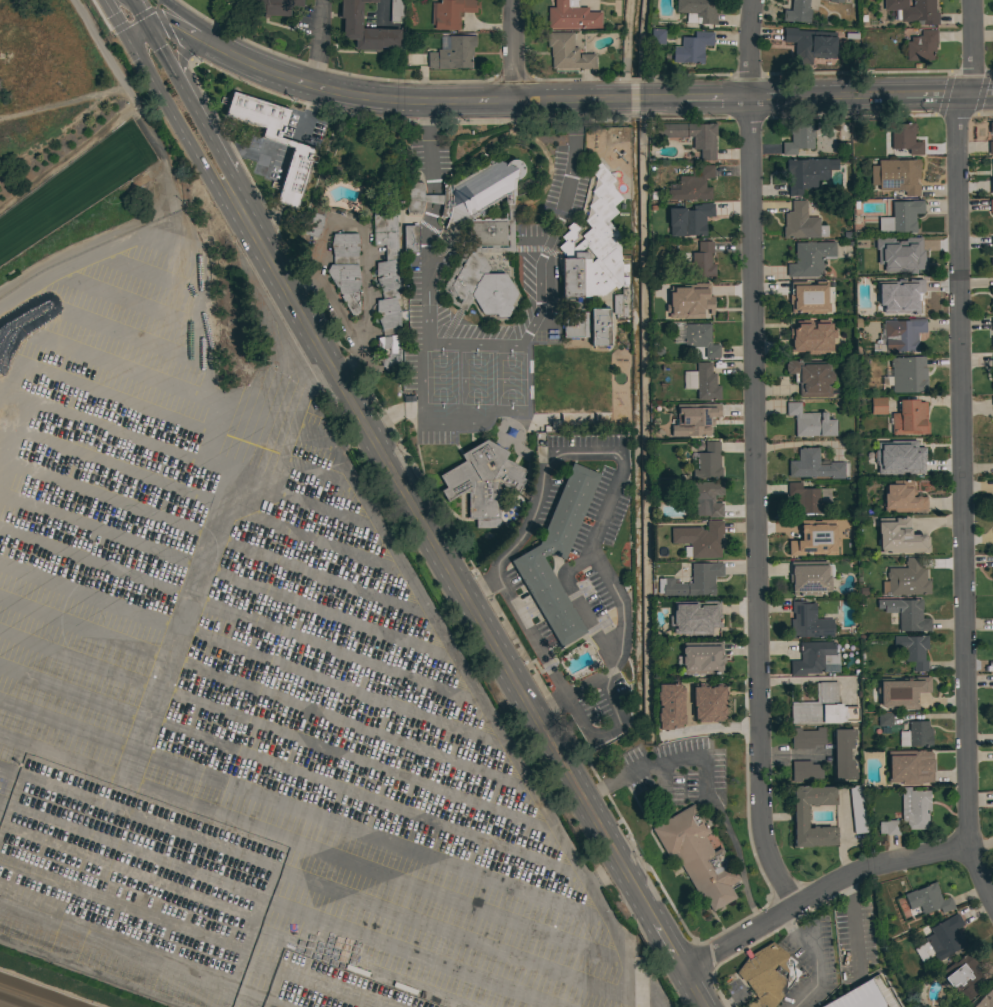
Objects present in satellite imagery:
building: (836, 1)
road: (108, 6)
building: (272, 7)
road: (382, 10)
building: (395, 11)
building: (697, 11)
building: (914, 11)
building: (797, 12)
road: (139, 13)
building: (450, 13)
road: (136, 16)
building: (571, 16)
road: (196, 24)
road: (119, 26)
road: (164, 26)
traffic signals: (147, 27)
building: (364, 28)
road: (176, 32)
building: (657, 36)
traffic signals: (127, 39)
road: (317, 42)
road: (99, 43)
building: (809, 44)
building: (921, 46)
building: (692, 48)
road: (512, 49)
road: (161, 50)
road: (180, 51)
building: (566, 52)
building: (452, 54)
road: (189, 81)
road: (605, 97)
road: (190, 101)
road: (173, 119)
building: (991, 127)
building: (691, 136)
building: (798, 138)
building: (904, 139)
building: (275, 142)
road: (429, 147)
building: (990, 147)
road: (223, 158)
building: (992, 164)
building: (807, 174)
building: (896, 175)
road: (569, 178)
building: (692, 185)
track: (72, 186)
building: (992, 186)
road: (432, 199)
building: (991, 206)
building: (901, 217)
building: (692, 219)
building: (313, 222)
building: (801, 223)
building: (476, 233)
building: (410, 239)
road: (191, 241)
road: (364, 242)
building: (991, 242)
building: (864, 243)
building: (593, 246)
building: (905, 257)
building: (810, 259)
road: (100, 260)
building: (698, 262)
building: (991, 265)
building: (345, 269)
road: (427, 272)
building: (387, 291)
building: (907, 294)
building: (807, 298)
road: (69, 300)
building: (704, 302)
building: (618, 306)
building: (991, 307)
road: (340, 312)
building: (992, 324)
building: (588, 326)
building: (900, 335)
building: (798, 338)
building: (700, 339)
road: (521, 343)
building: (992, 362)
building: (906, 374)
road: (73, 376)
building: (810, 377)
building: (702, 382)
road: (278, 384)
building: (991, 384)
building: (992, 401)
building: (877, 406)
building: (909, 418)
building: (694, 419)
road: (960, 421)
building: (809, 422)
road: (752, 456)
building: (908, 456)
building: (708, 462)
building: (815, 465)
road: (301, 469)
road: (129, 476)
building: (481, 482)
building: (704, 498)
building: (807, 498)
building: (902, 498)
road: (307, 506)
road: (596, 535)
building: (899, 537)
building: (699, 540)
building: (806, 540)
road: (220, 541)
building: (846, 549)
building: (557, 555)
road: (439, 556)
building: (809, 577)
road: (228, 578)
building: (906, 579)
building: (693, 581)
building: (906, 613)
road: (240, 618)
building: (704, 620)
building: (808, 622)
building: (912, 650)
road: (252, 655)
building: (811, 657)
building: (702, 658)
road: (585, 684)
road: (475, 687)
road: (264, 692)
building: (901, 692)
building: (701, 697)
road: (152, 703)
parking lot: (253, 703)
building: (663, 707)
building: (822, 707)
building: (884, 723)
road: (707, 728)
road: (276, 733)
building: (915, 735)
building: (806, 738)
road: (790, 754)
building: (843, 754)
building: (909, 767)
building: (804, 771)
road: (290, 772)
road: (704, 786)
building: (914, 808)
road: (302, 809)
building: (857, 810)
building: (799, 816)
building: (889, 827)
road: (312, 850)
building: (697, 856)
road: (602, 874)
road: (979, 876)
road: (314, 882)
road: (818, 891)
road: (70, 896)
building: (927, 899)
road: (279, 906)
road: (233, 920)
road: (853, 923)
road: (63, 933)
building: (944, 938)
road: (220, 944)
road: (804, 945)
road: (668, 946)
road: (188, 963)
building: (767, 974)
building: (961, 977)
road: (234, 979)
road: (315, 979)
road: (693, 989)
road: (171, 992)
track: (36, 993)
road: (804, 996)
building: (867, 996)
building: (985, 999)
road: (284, 1001)

